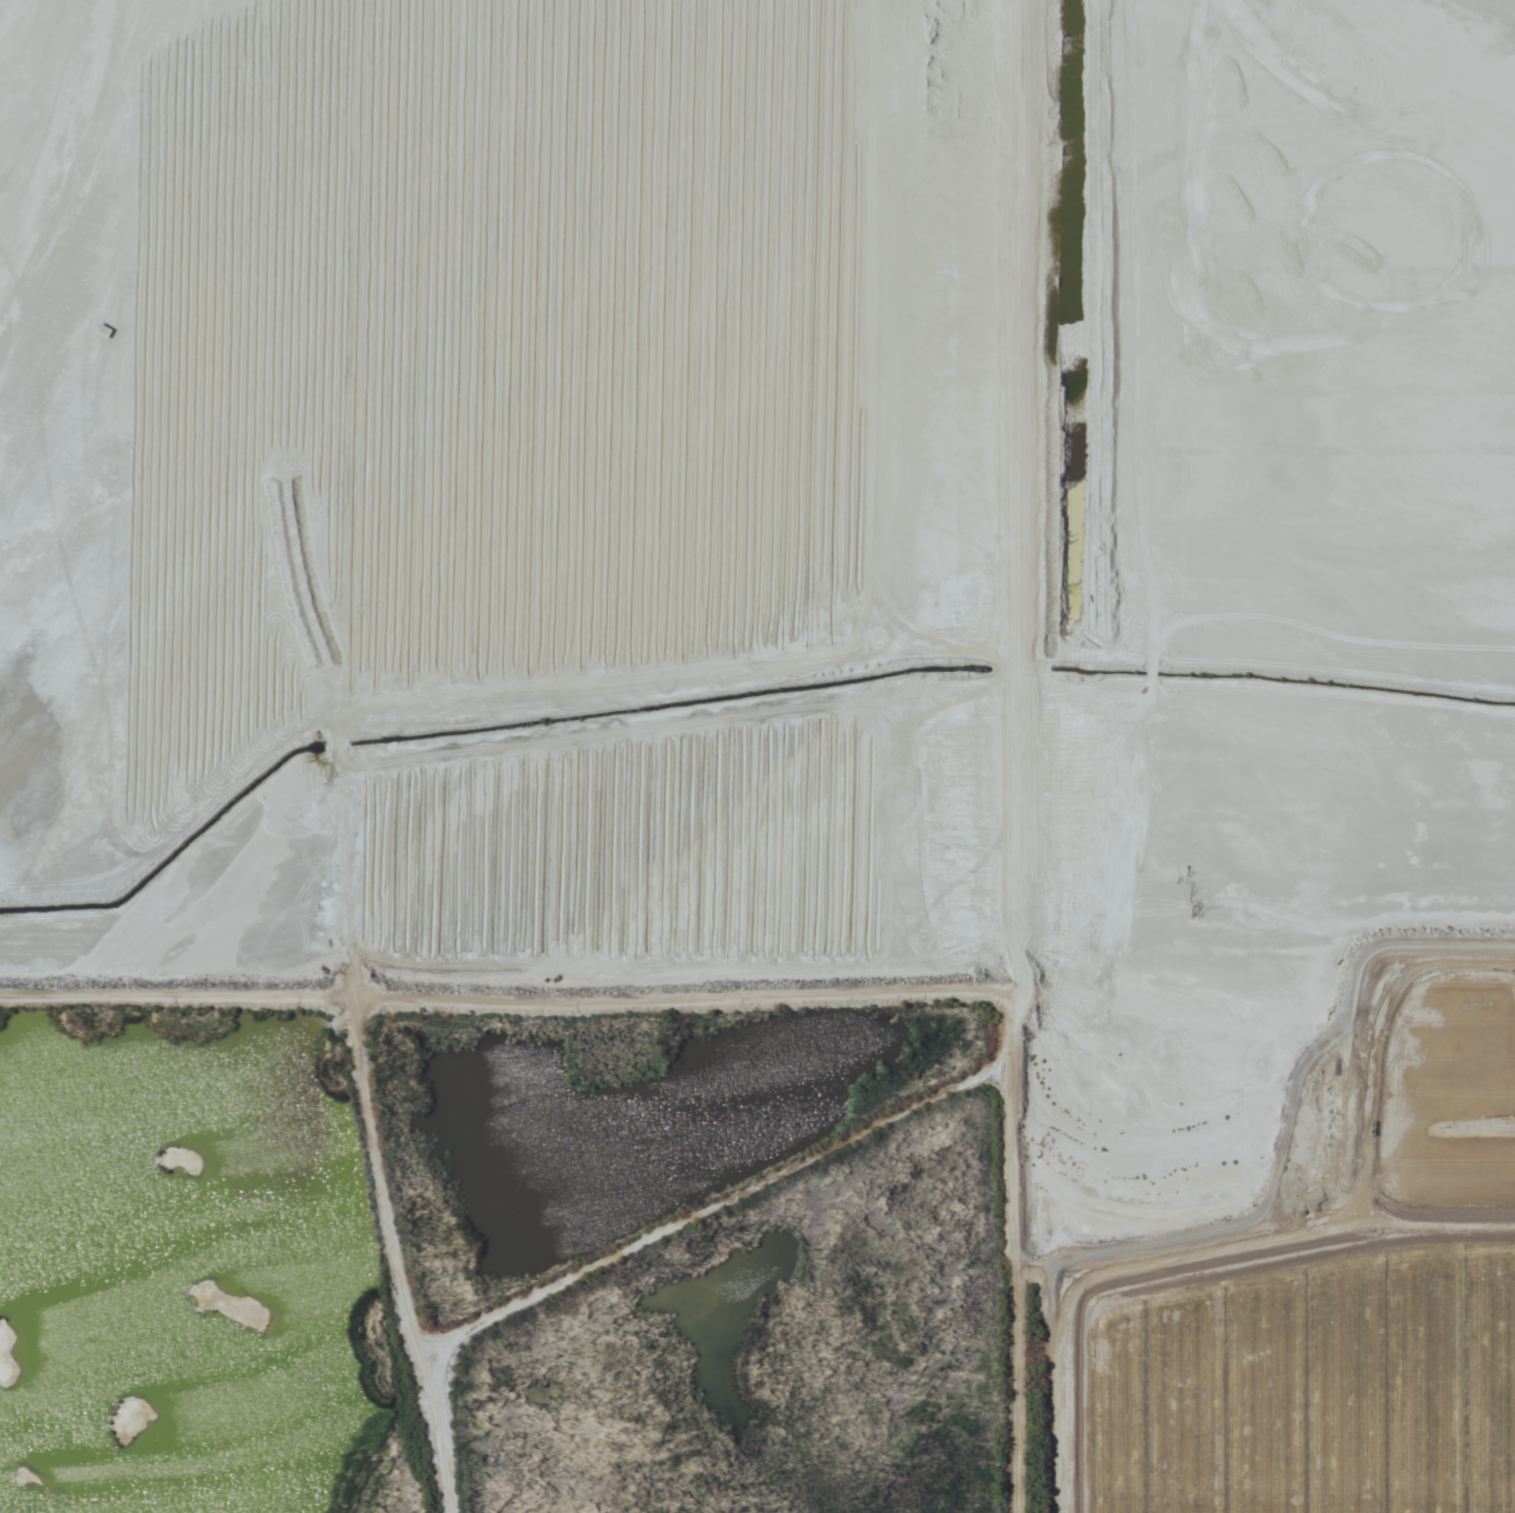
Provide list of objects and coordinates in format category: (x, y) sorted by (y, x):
road: (1046, 1387)

